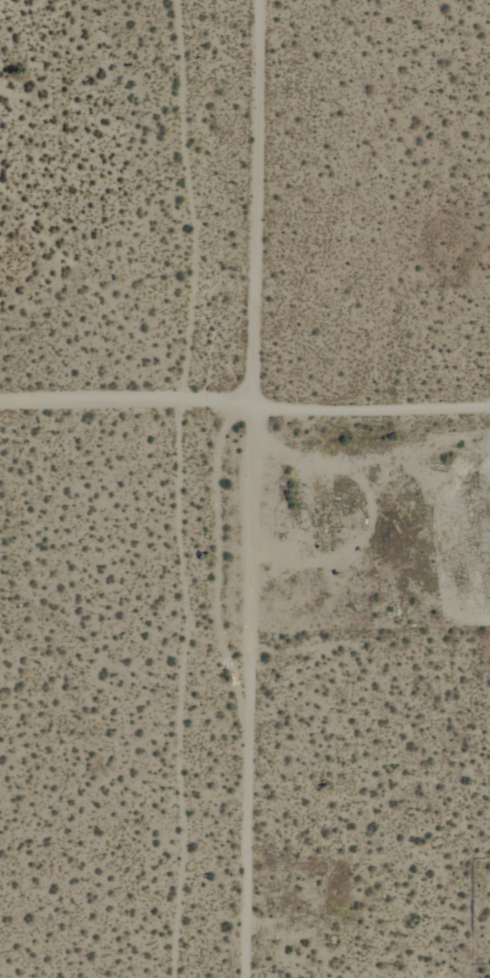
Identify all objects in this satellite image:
road: (242, 427)
road: (214, 488)

